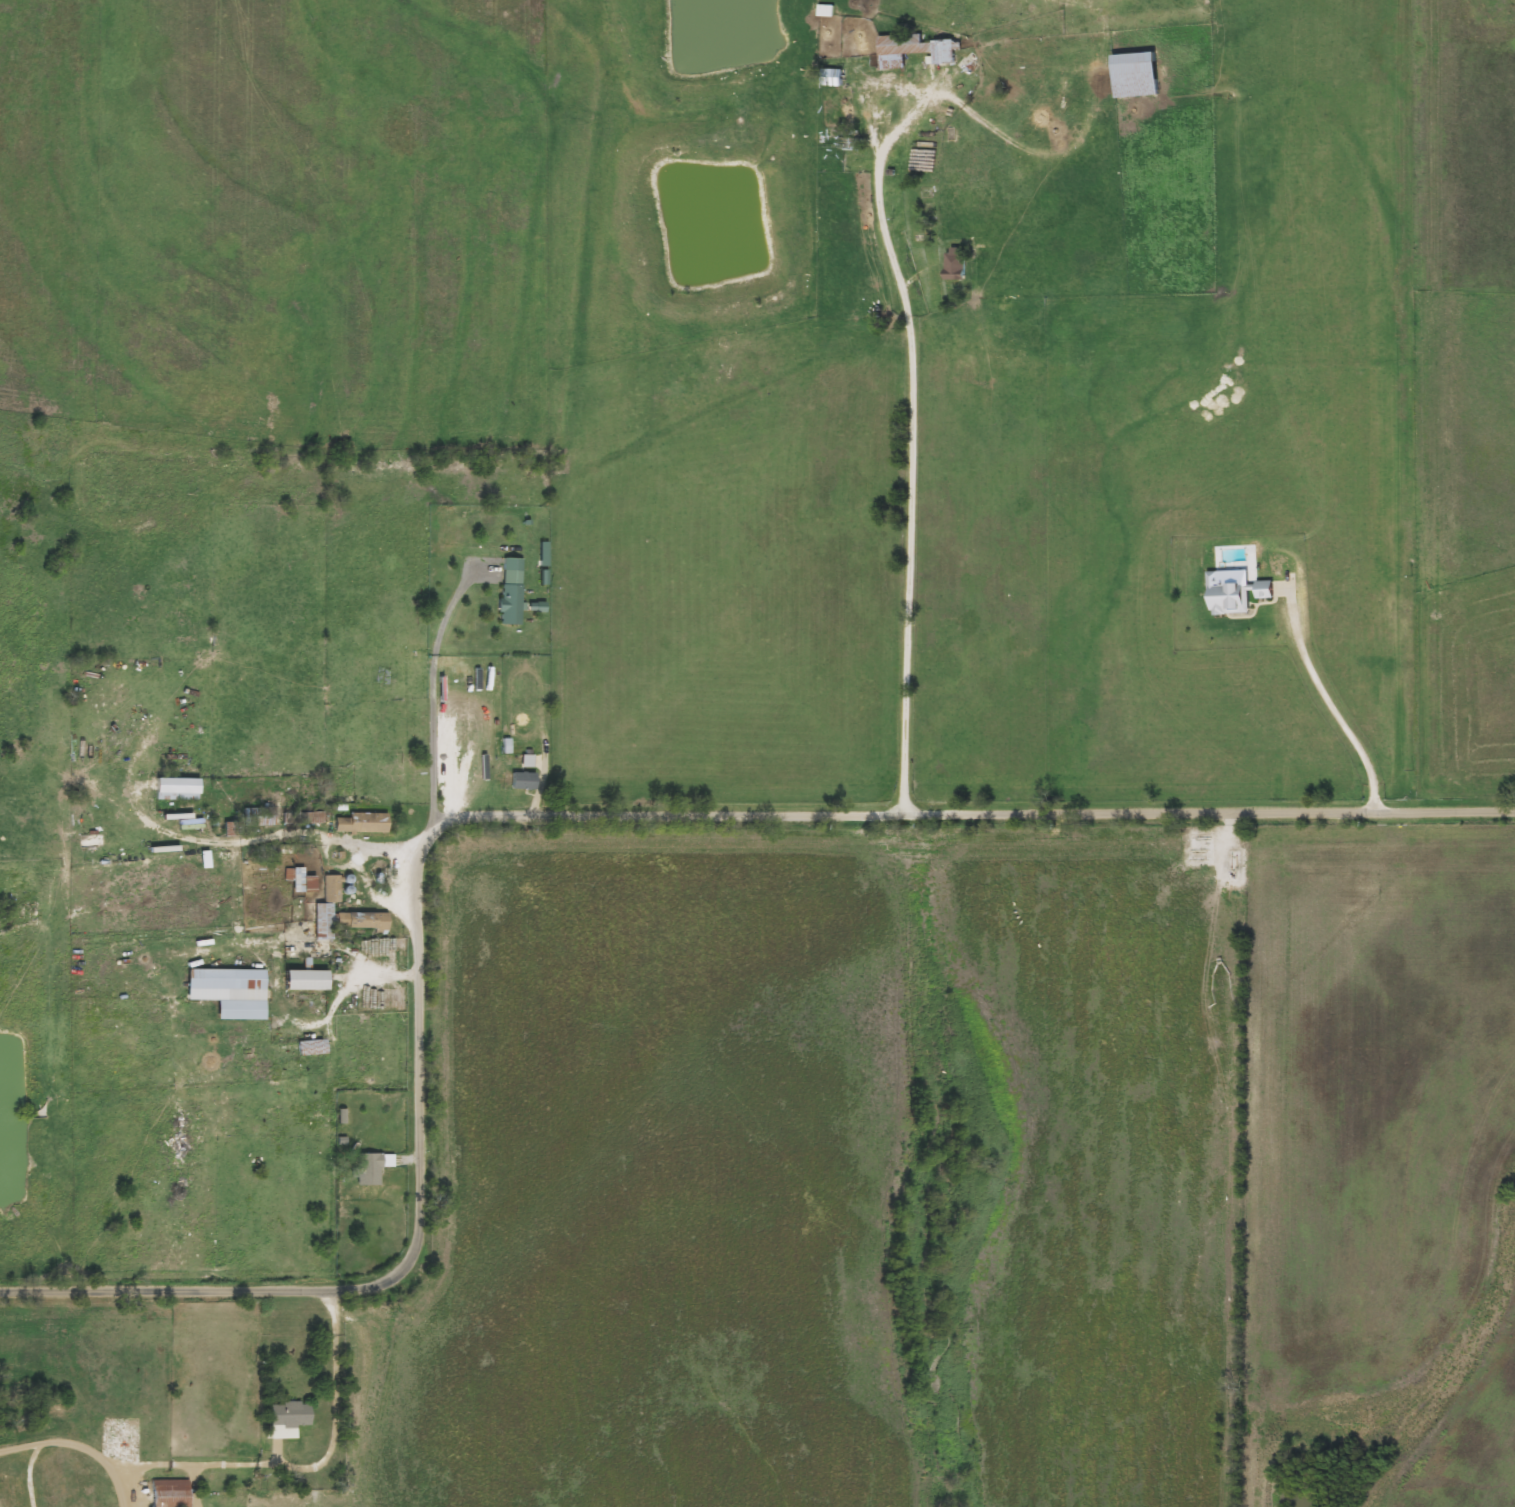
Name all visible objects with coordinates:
building: (918, 50)
building: (1140, 75)
building: (836, 77)
building: (962, 262)
road: (911, 449)
building: (514, 593)
building: (1240, 594)
road: (573, 646)
road: (426, 698)
road: (1332, 701)
building: (528, 781)
building: (180, 789)
building: (262, 816)
road: (546, 818)
building: (365, 823)
road: (298, 832)
building: (266, 873)
building: (306, 882)
building: (372, 921)
building: (327, 923)
building: (311, 980)
building: (233, 991)
building: (314, 1047)
road: (1386, 1161)
building: (375, 1167)
building: (293, 1415)
road: (245, 1463)
road: (118, 1482)
building: (173, 1493)

